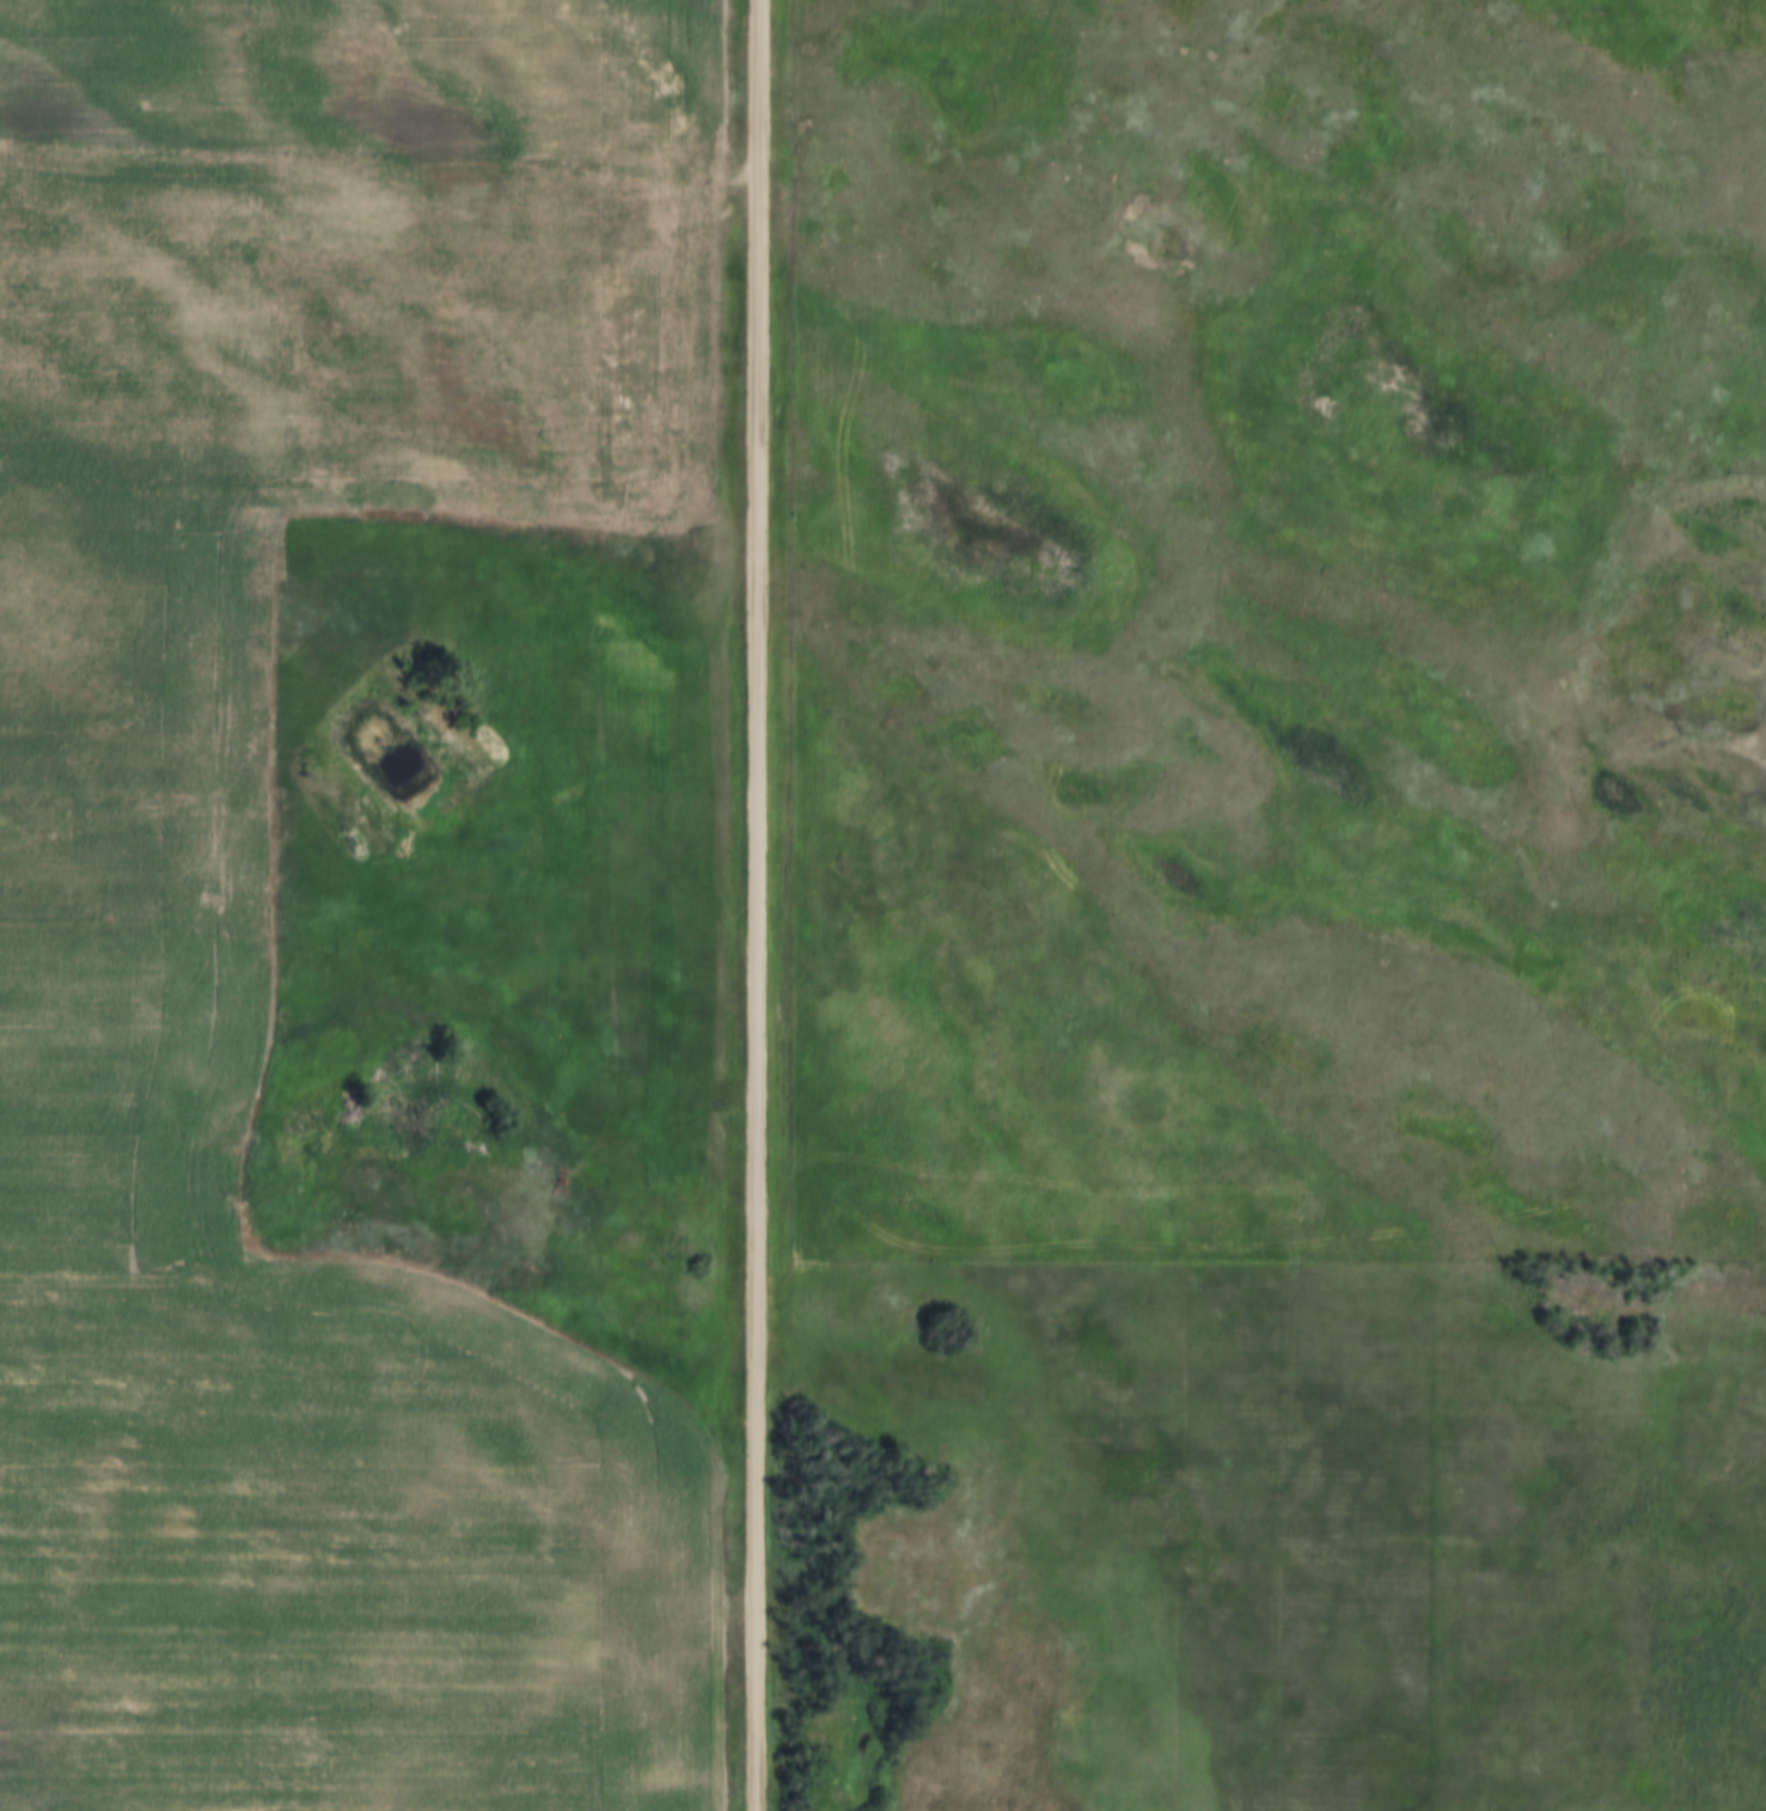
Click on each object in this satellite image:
road: (379, 165)
road: (757, 905)

